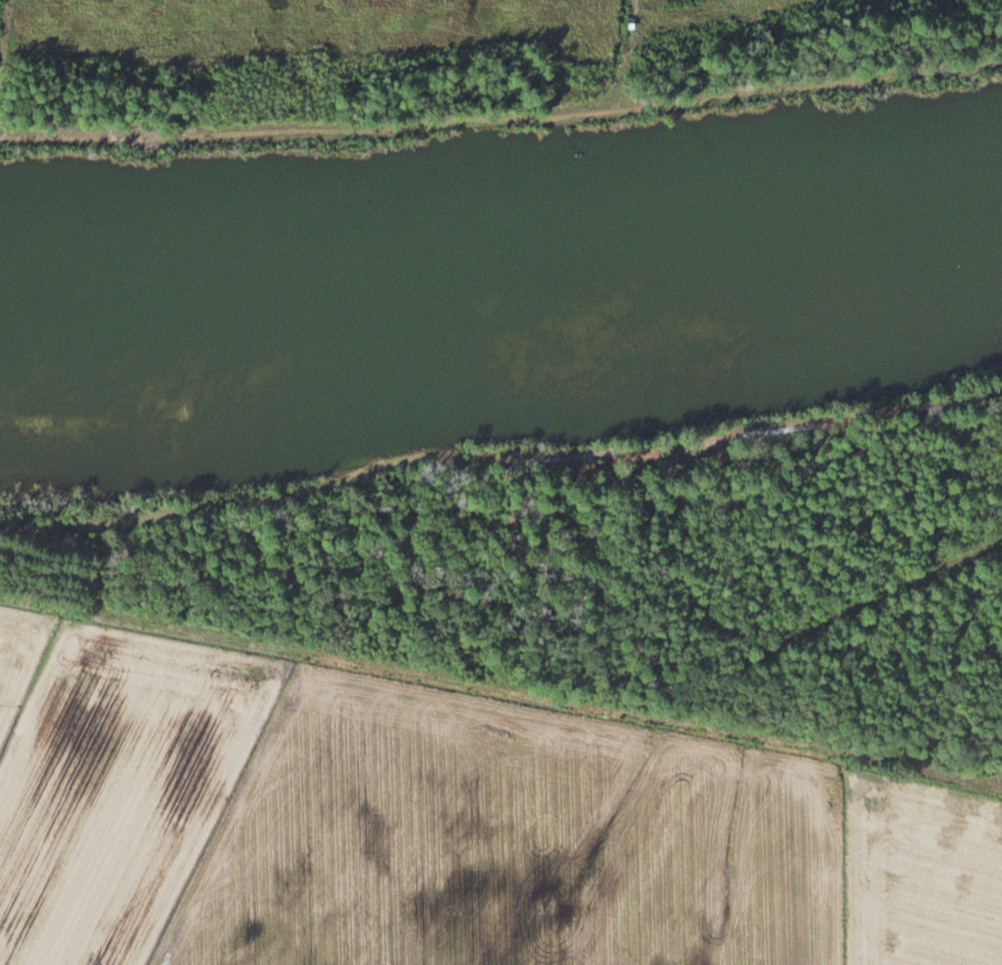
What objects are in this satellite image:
road: (818, 888)

